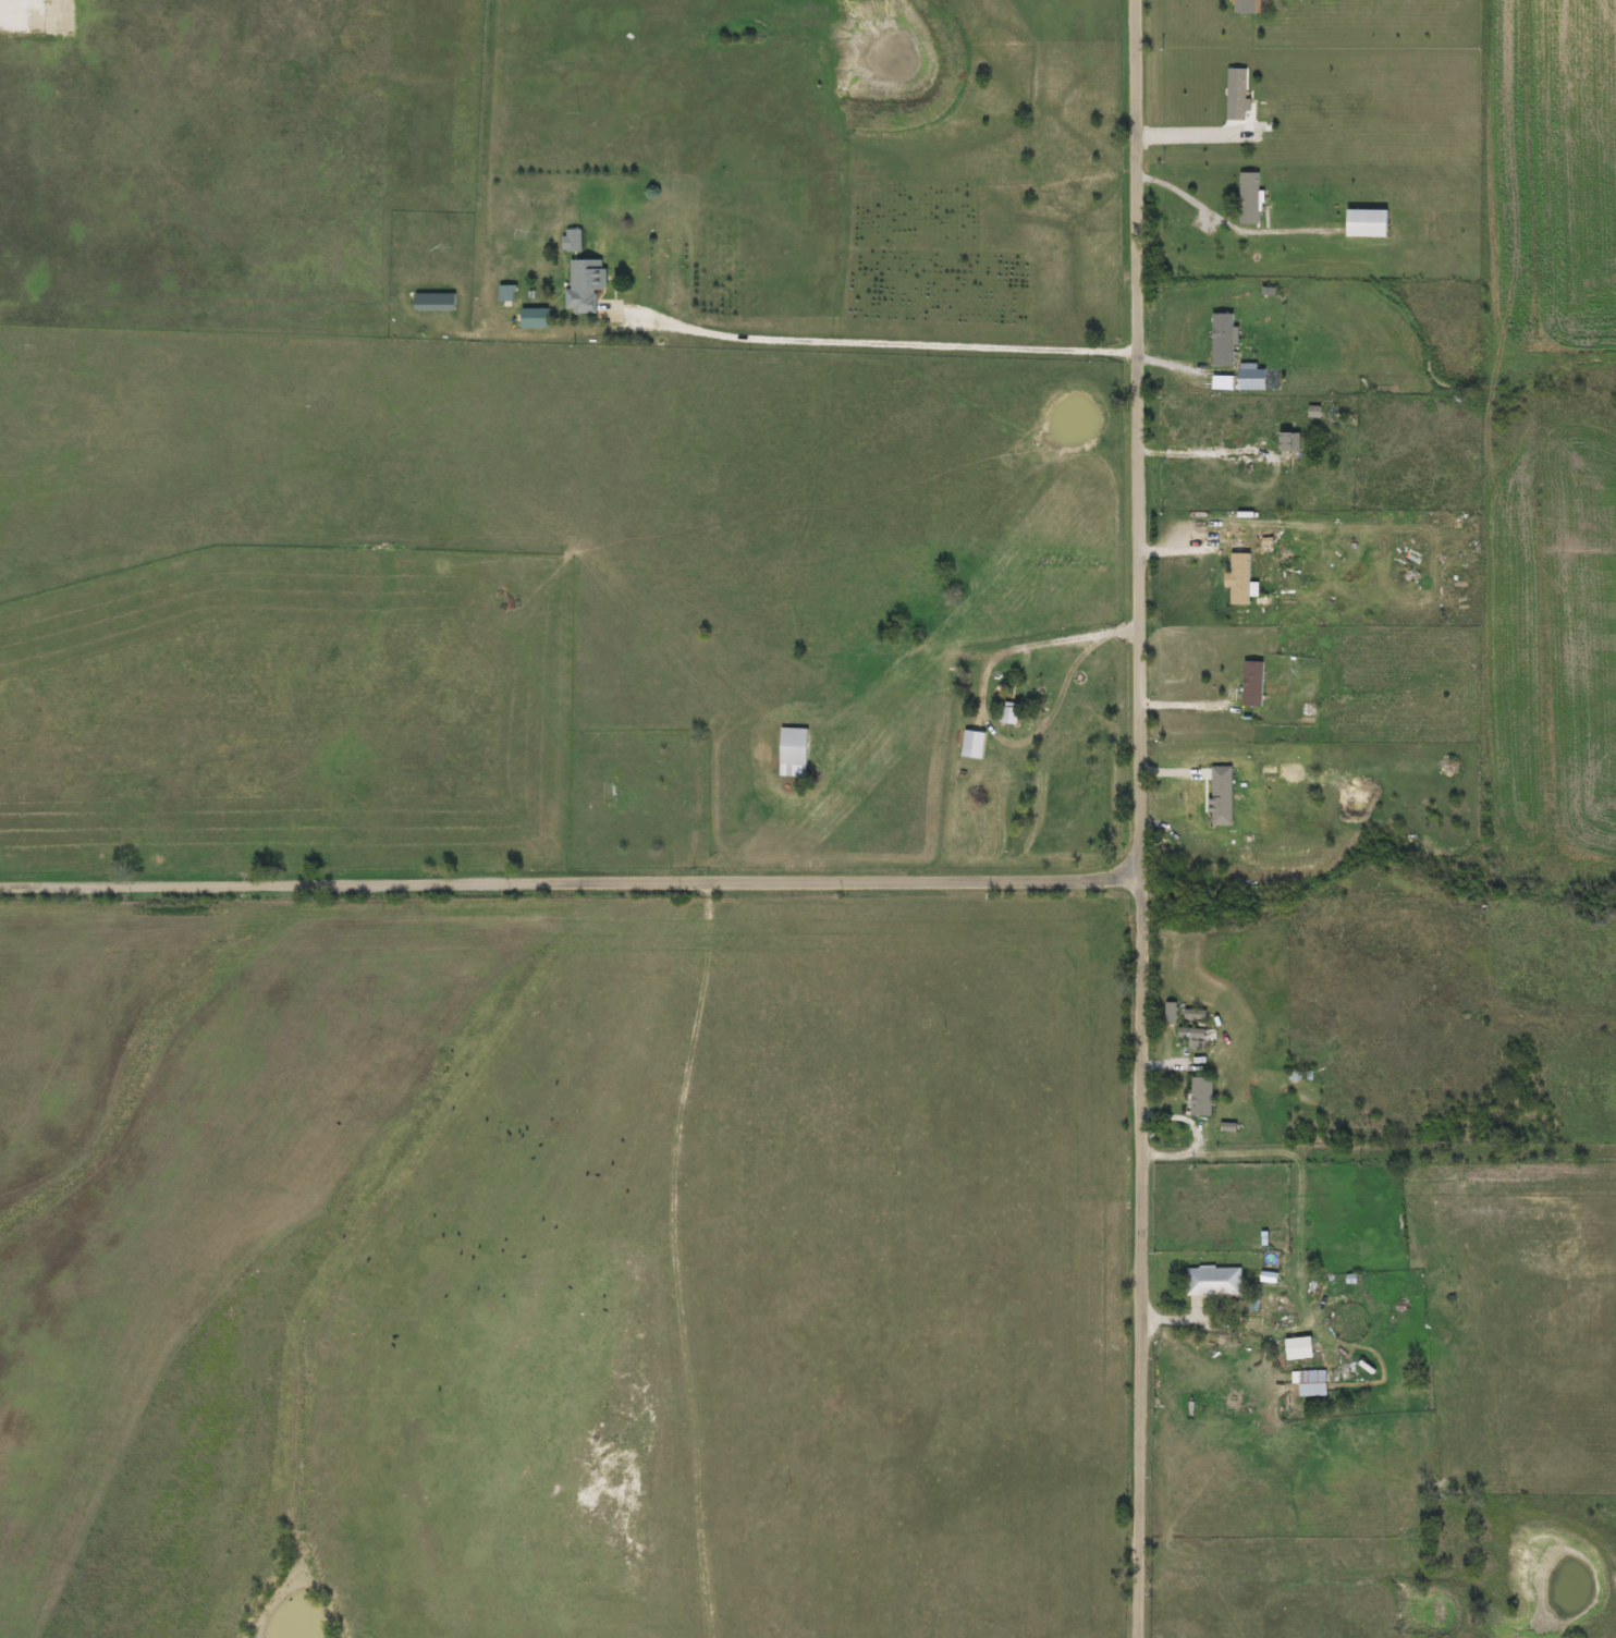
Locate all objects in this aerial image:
building: (1240, 7)
building: (1232, 95)
building: (1245, 198)
building: (570, 241)
building: (580, 284)
building: (503, 293)
building: (529, 319)
building: (1219, 340)
road: (899, 344)
building: (1235, 579)
building: (1248, 684)
road: (978, 704)
building: (1004, 714)
building: (968, 746)
building: (788, 753)
road: (1141, 819)
road: (571, 887)
road: (1381, 906)
building: (1191, 1014)
building: (1188, 1038)
building: (1298, 1076)
building: (1197, 1097)
road: (1294, 1246)
building: (1210, 1282)
building: (1248, 1329)
building: (1307, 1383)

